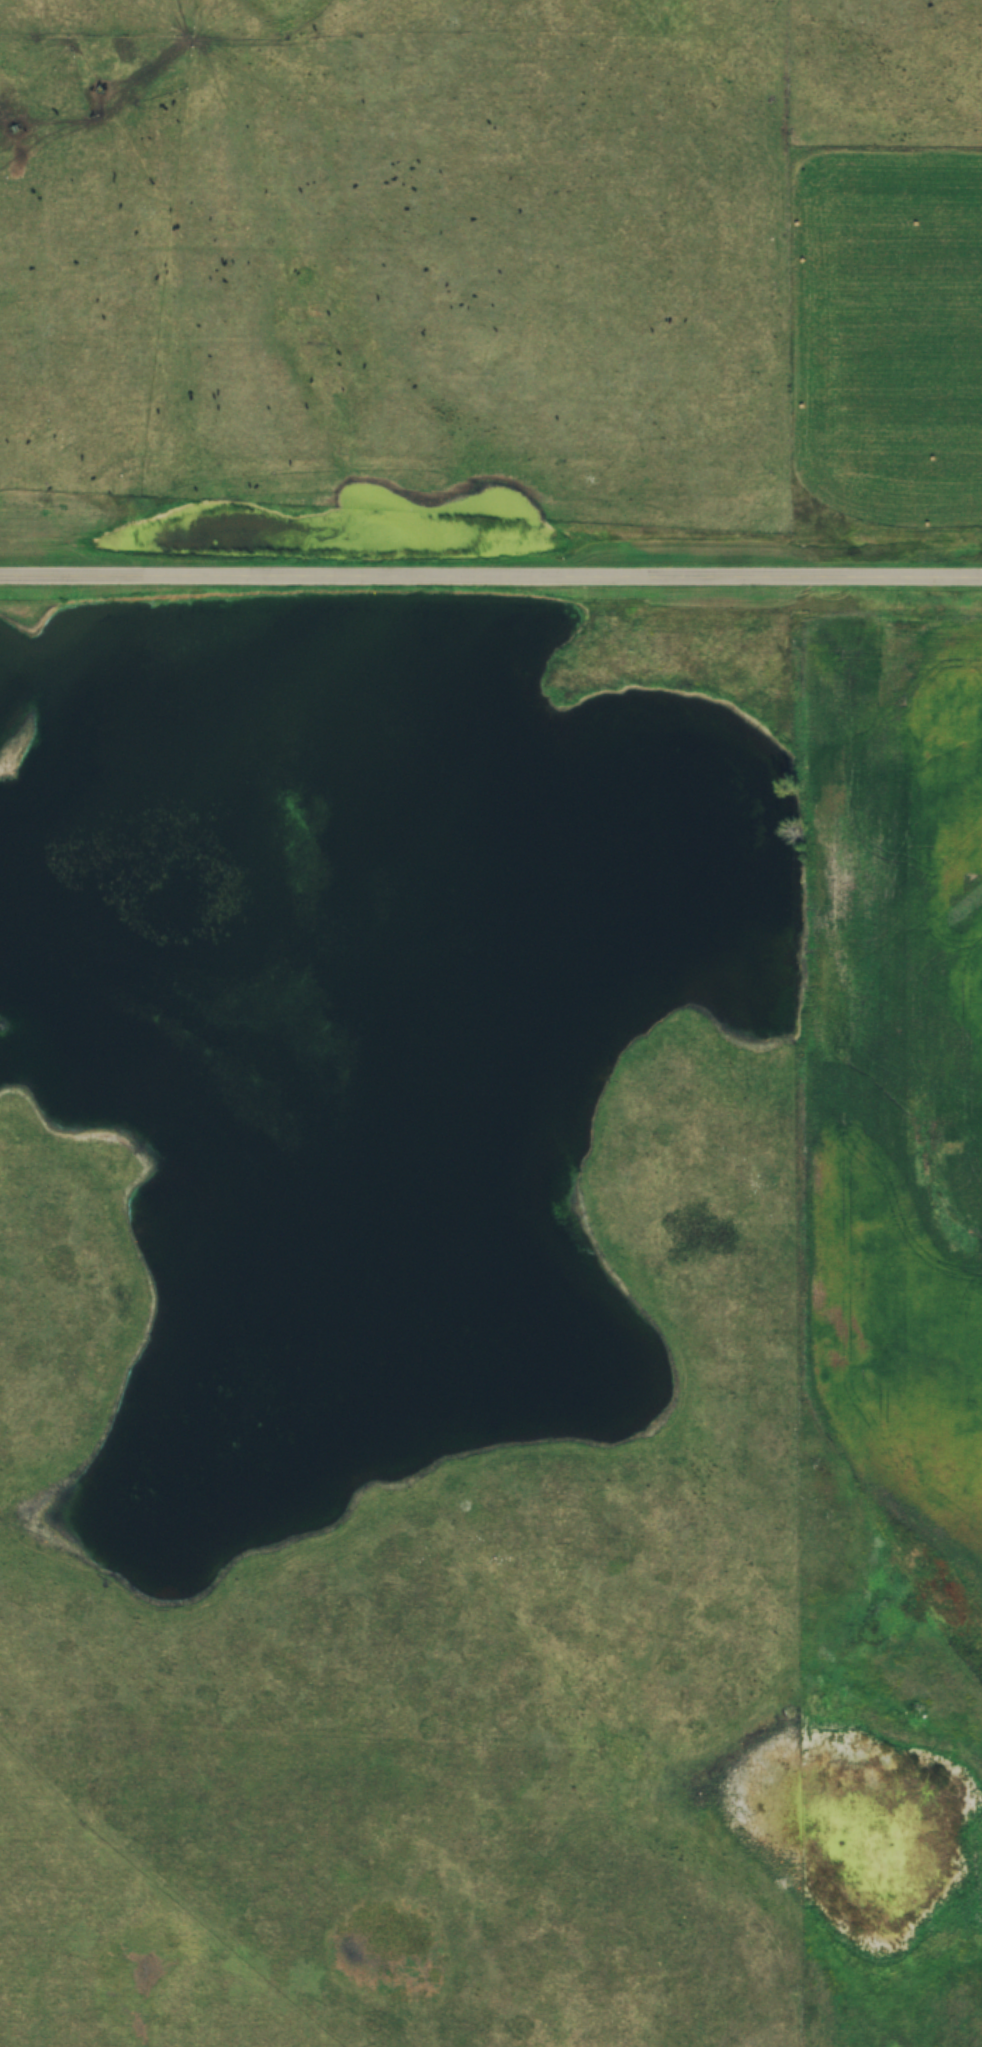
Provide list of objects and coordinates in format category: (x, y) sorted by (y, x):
road: (491, 570)

